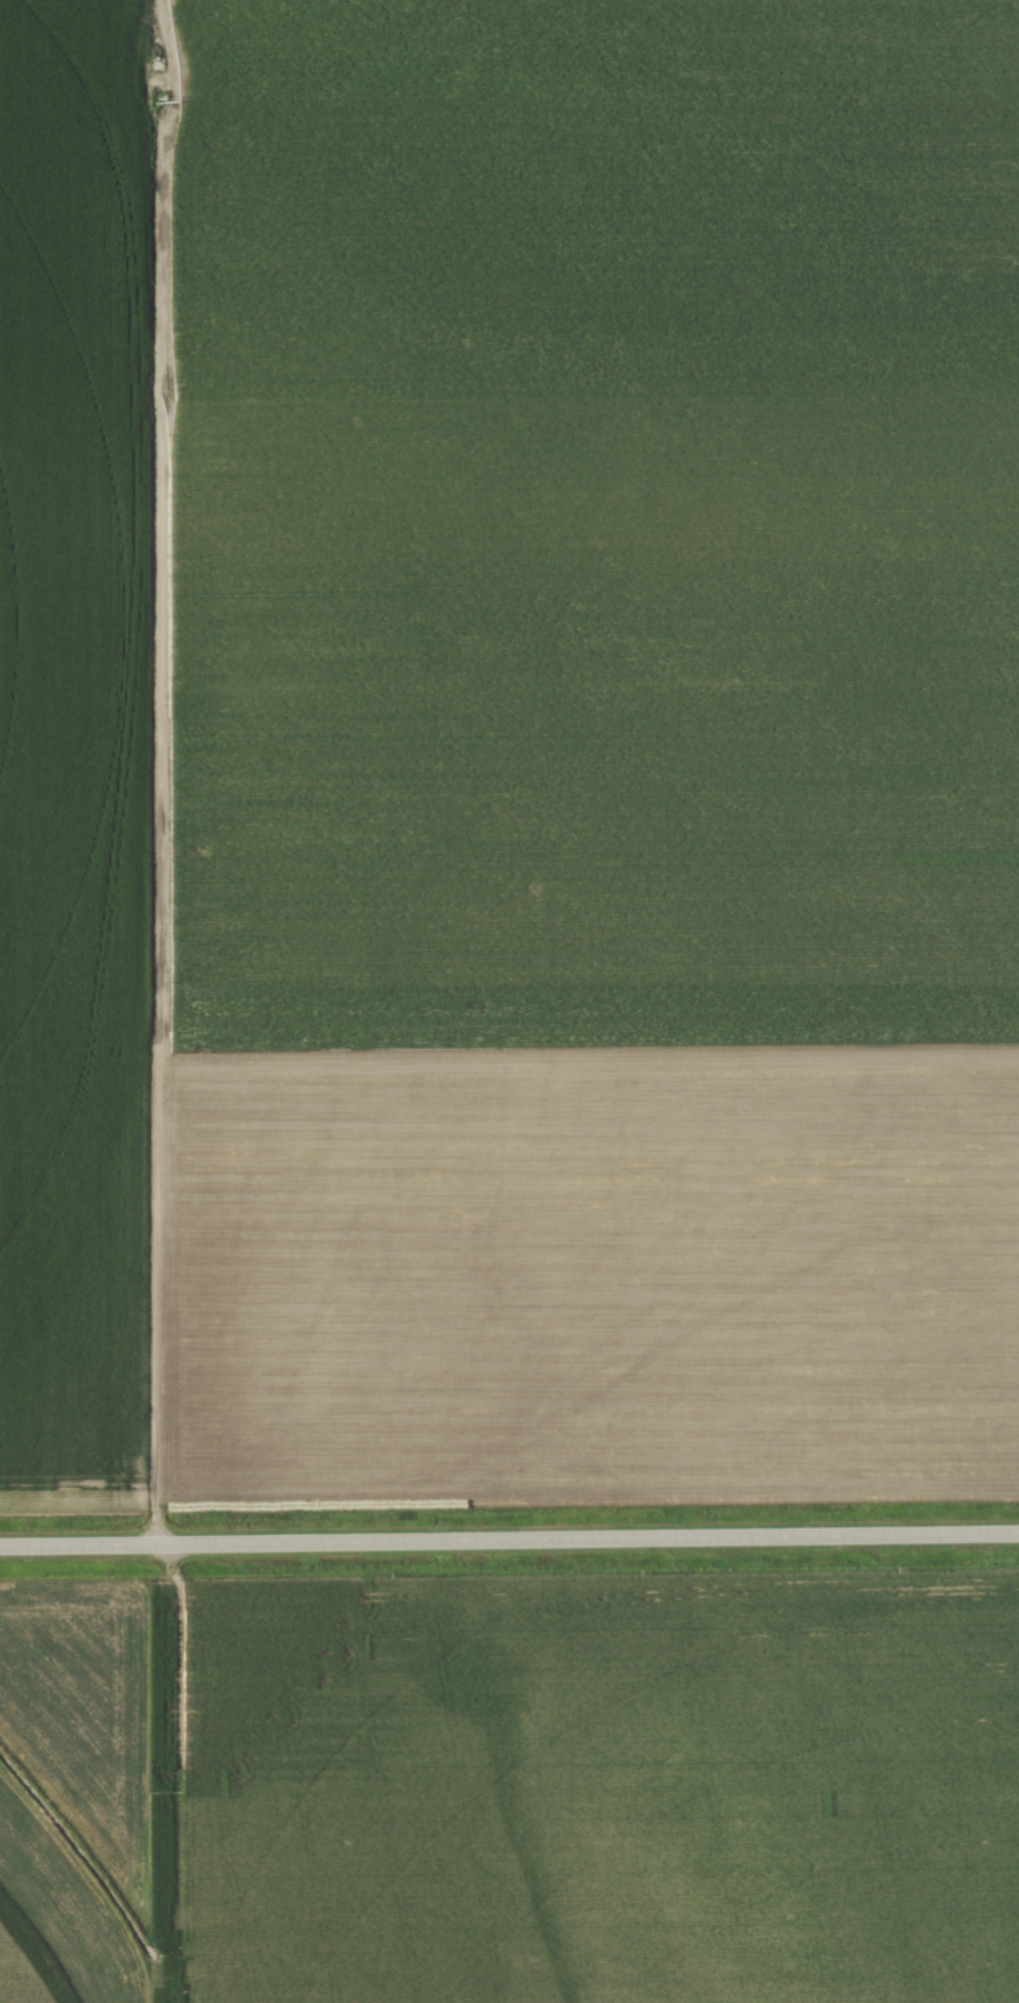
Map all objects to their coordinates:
road: (74, 395)
crop: (509, 751)
road: (150, 769)
road: (509, 1541)
crop: (511, 1790)

